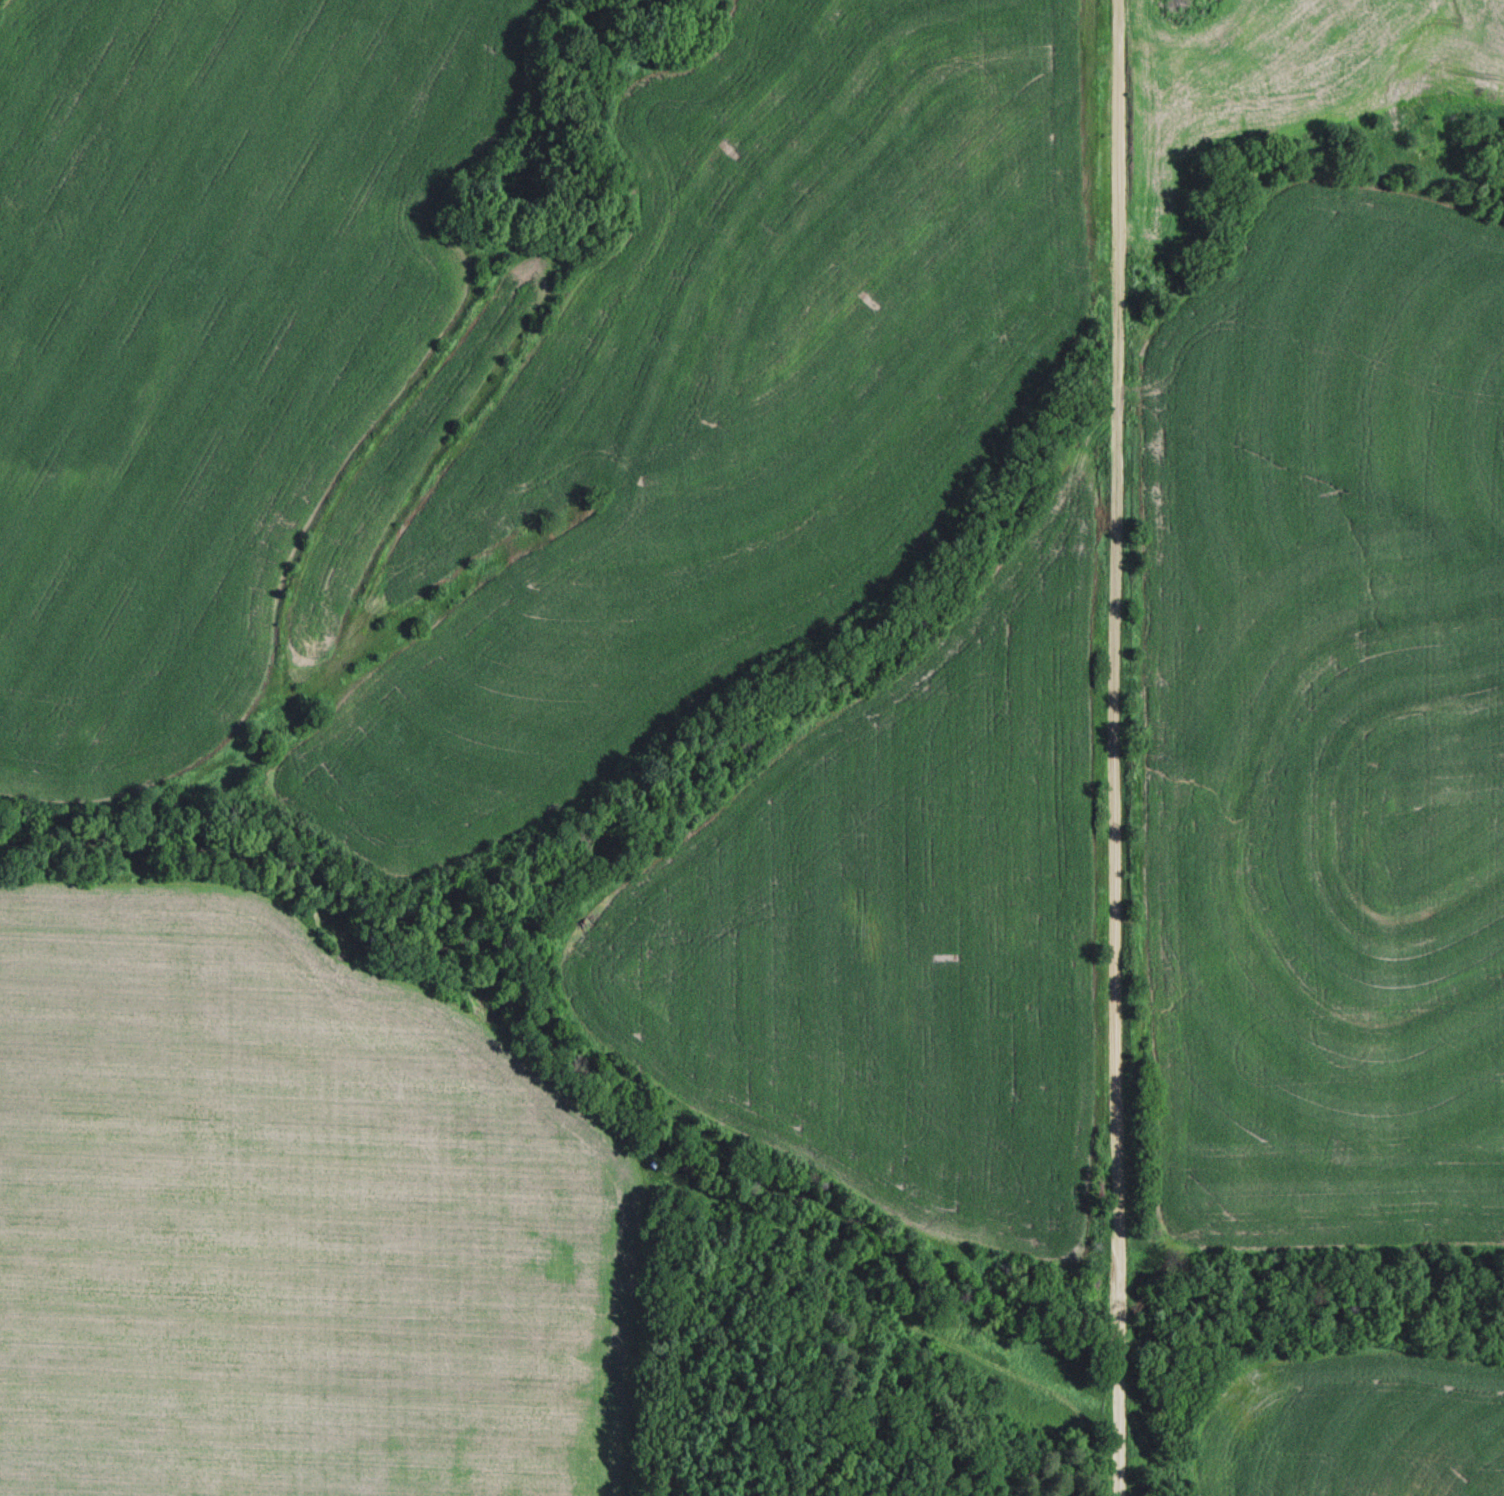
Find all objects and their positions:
building: (1189, 3)
road: (1116, 747)

